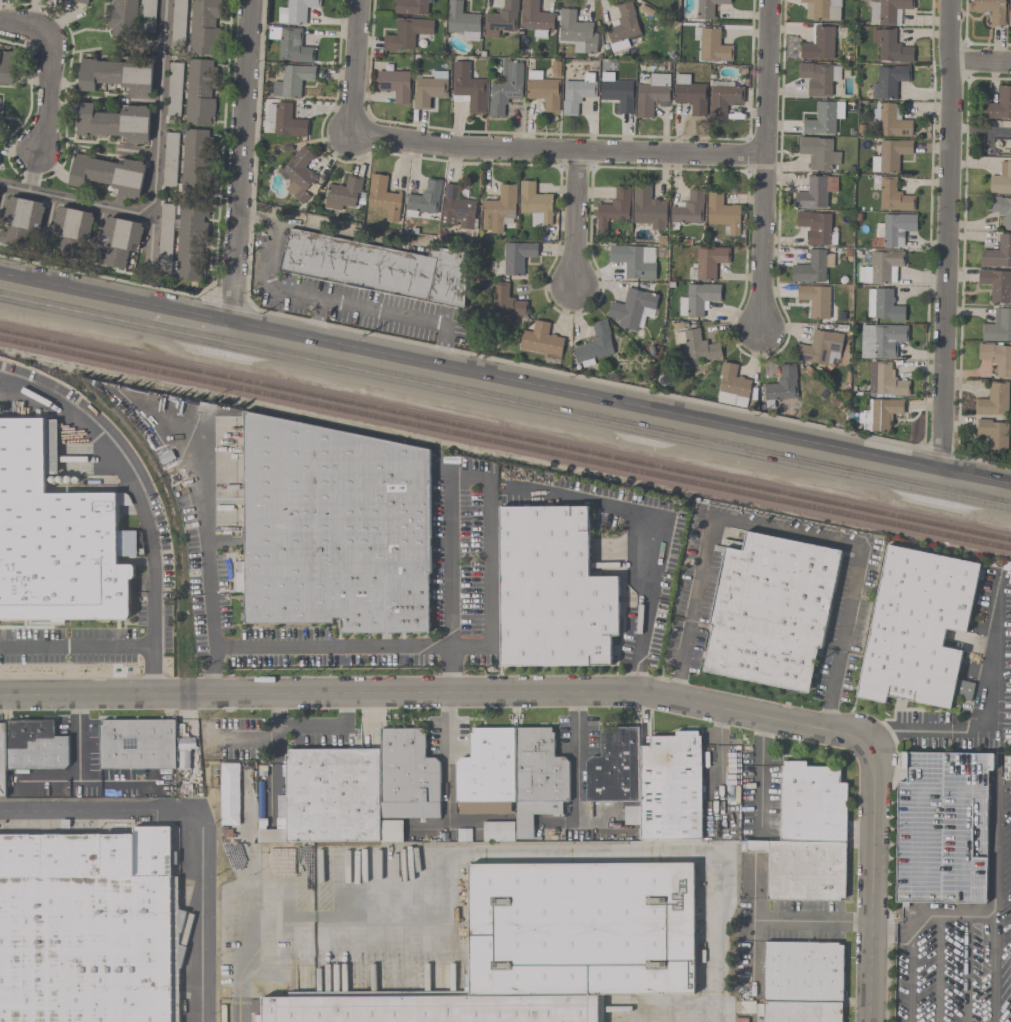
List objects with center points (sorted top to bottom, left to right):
building: (79, 1)
building: (411, 7)
building: (707, 8)
building: (822, 9)
building: (991, 10)
building: (296, 11)
building: (887, 11)
building: (1009, 14)
building: (122, 18)
building: (535, 18)
building: (461, 19)
building: (501, 19)
building: (203, 27)
building: (622, 27)
building: (577, 32)
building: (406, 33)
building: (290, 44)
building: (819, 44)
building: (713, 46)
building: (891, 47)
road: (979, 61)
road: (353, 66)
building: (7, 67)
road: (49, 70)
building: (116, 75)
road: (768, 77)
building: (818, 78)
building: (292, 81)
building: (889, 81)
building: (394, 84)
building: (468, 87)
building: (505, 87)
building: (430, 89)
building: (543, 90)
building: (199, 92)
building: (618, 94)
building: (651, 94)
building: (690, 94)
building: (576, 95)
building: (723, 99)
building: (1000, 104)
road: (158, 106)
building: (824, 118)
building: (285, 120)
building: (890, 120)
building: (114, 123)
building: (997, 144)
road: (556, 148)
building: (818, 153)
building: (890, 155)
building: (170, 160)
building: (195, 162)
road: (241, 166)
building: (108, 174)
building: (299, 174)
building: (1001, 179)
building: (815, 192)
building: (342, 193)
building: (893, 196)
building: (383, 197)
building: (424, 199)
road: (74, 201)
building: (535, 204)
building: (456, 208)
building: (499, 208)
building: (614, 208)
building: (648, 208)
building: (1000, 208)
building: (688, 209)
building: (723, 214)
road: (574, 219)
building: (20, 222)
building: (816, 228)
building: (897, 229)
building: (72, 232)
building: (191, 239)
road: (944, 239)
building: (119, 241)
road: (273, 241)
road: (763, 242)
building: (998, 253)
building: (515, 258)
building: (634, 261)
building: (708, 262)
building: (378, 267)
building: (881, 267)
building: (810, 268)
building: (997, 285)
road: (74, 299)
building: (697, 299)
building: (506, 301)
building: (815, 301)
building: (883, 305)
building: (633, 308)
road: (391, 310)
road: (188, 323)
road: (317, 323)
building: (998, 326)
building: (881, 340)
building: (542, 342)
building: (594, 345)
building: (697, 346)
building: (820, 348)
building: (996, 357)
road: (505, 361)
building: (885, 380)
building: (734, 384)
building: (782, 385)
building: (993, 400)
road: (619, 412)
building: (879, 414)
building: (993, 434)
railway: (505, 435)
railway: (505, 445)
road: (484, 483)
road: (140, 505)
road: (627, 508)
road: (205, 517)
building: (334, 525)
road: (786, 532)
building: (56, 533)
building: (552, 590)
building: (769, 610)
building: (916, 626)
road: (76, 646)
road: (213, 646)
road: (356, 646)
road: (638, 647)
road: (435, 697)
road: (984, 722)
road: (312, 725)
building: (137, 743)
building: (35, 744)
road: (576, 748)
building: (2, 758)
road: (447, 761)
road: (761, 768)
building: (408, 774)
building: (510, 778)
building: (649, 780)
building: (332, 793)
road: (198, 816)
building: (942, 827)
building: (391, 830)
building: (271, 834)
building: (807, 834)
building: (463, 835)
road: (992, 844)
road: (515, 856)
road: (869, 879)
road: (752, 890)
road: (979, 913)
road: (811, 921)
building: (89, 927)
building: (545, 947)
road: (752, 951)
road: (940, 967)
road: (966, 967)
building: (803, 971)
road: (909, 975)
building: (801, 1011)

